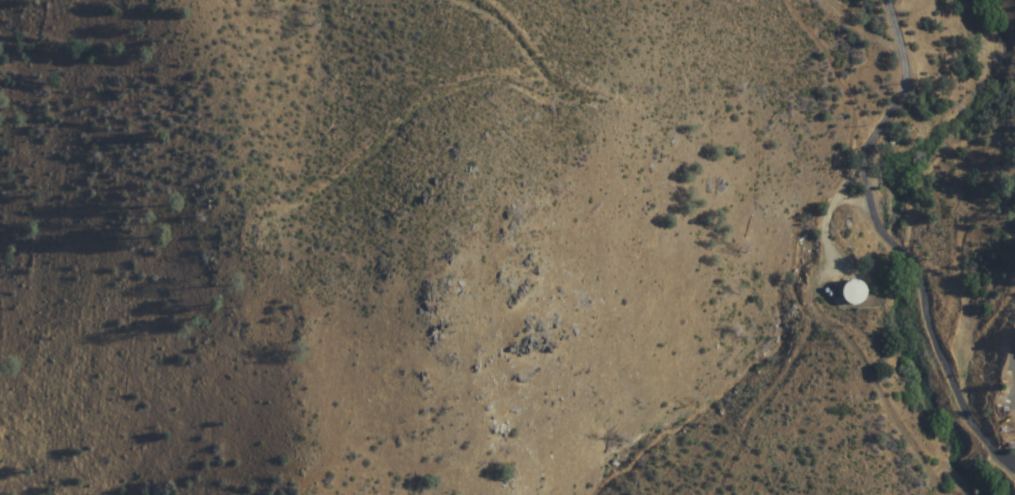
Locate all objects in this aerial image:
building: (856, 293)

